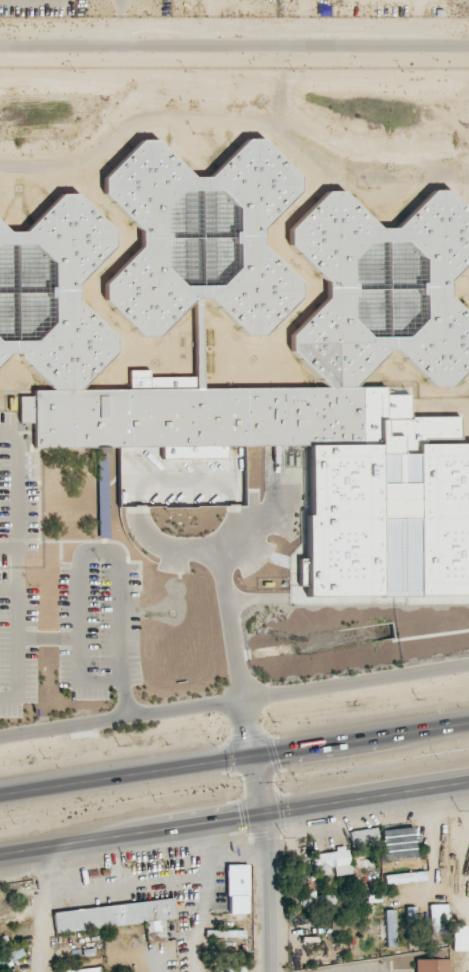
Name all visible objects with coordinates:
road: (234, 47)
building: (202, 237)
building: (224, 407)
road: (10, 439)
road: (222, 509)
road: (7, 548)
road: (109, 551)
road: (15, 561)
building: (302, 572)
road: (7, 591)
road: (226, 621)
road: (7, 671)
road: (356, 683)
road: (121, 719)
road: (247, 728)
traffic signals: (248, 730)
road: (361, 739)
traffic signals: (280, 752)
road: (126, 775)
road: (234, 818)
traffic signals: (235, 818)
building: (364, 837)
traffic signals: (265, 841)
building: (399, 843)
road: (432, 858)
building: (332, 862)
road: (266, 863)
building: (405, 878)
building: (237, 889)
road: (186, 899)
building: (320, 899)
road: (41, 909)
building: (438, 916)
building: (412, 924)
building: (390, 928)
building: (225, 933)
building: (460, 938)
building: (10, 956)
building: (432, 965)
building: (0, 970)
building: (87, 970)

